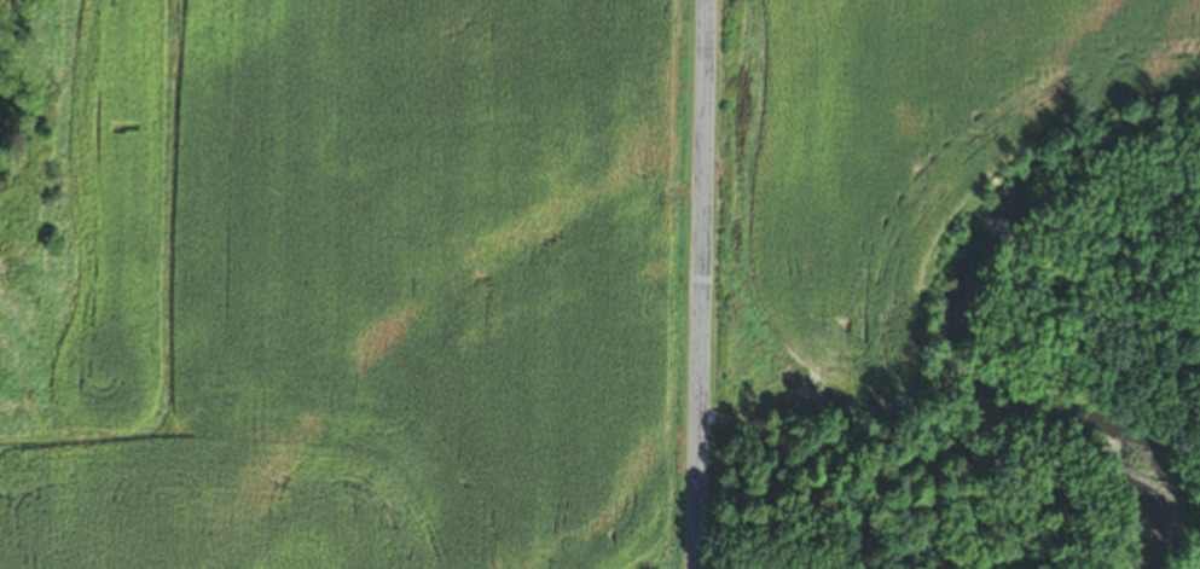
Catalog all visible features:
road: (700, 284)

